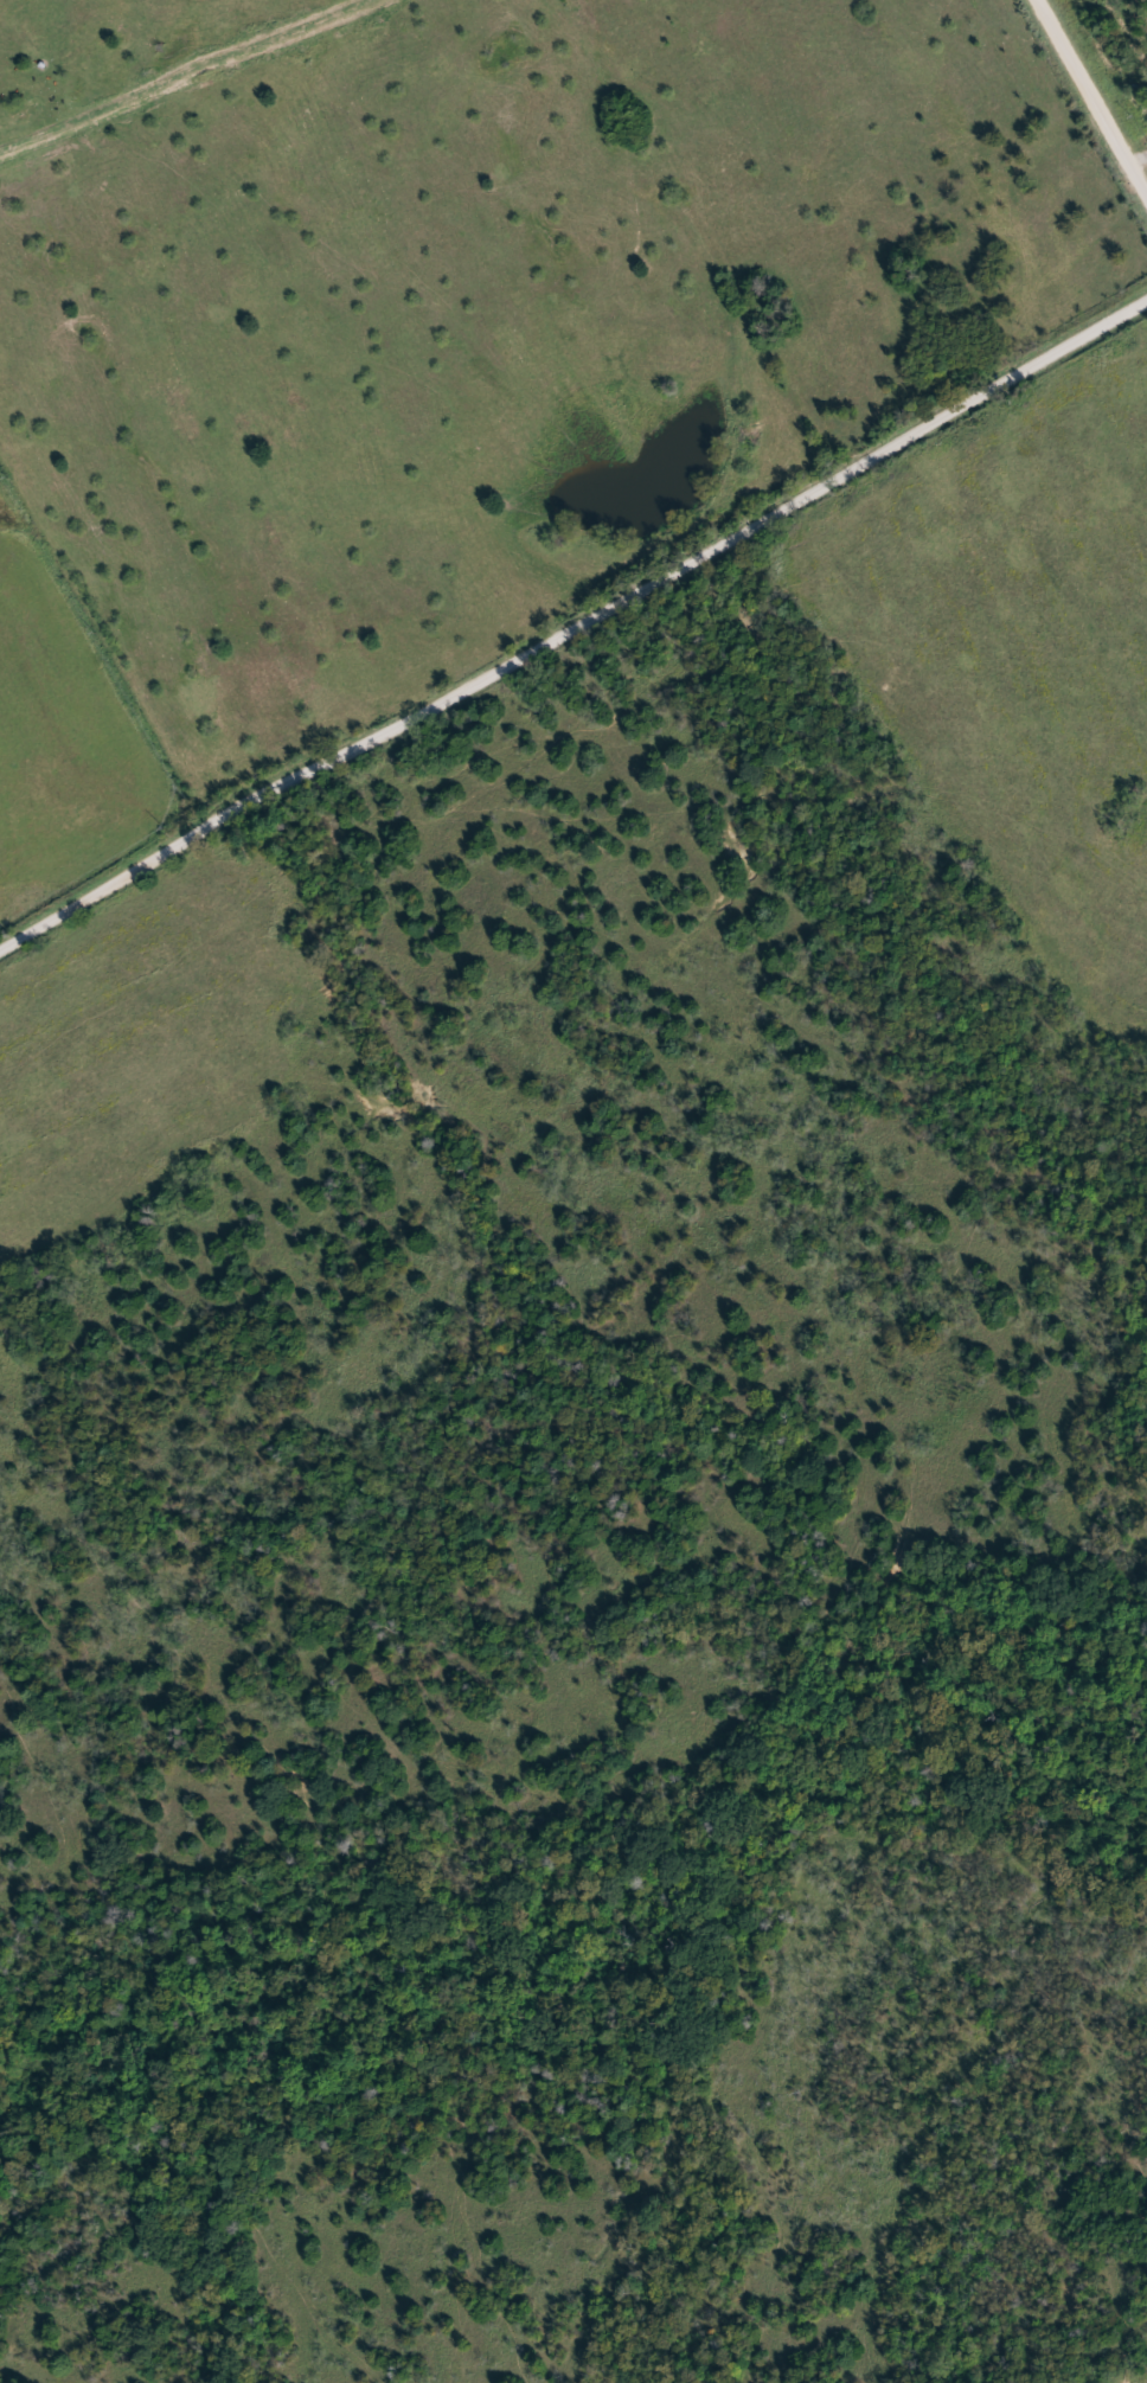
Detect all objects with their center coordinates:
road: (187, 76)
road: (1091, 97)
road: (573, 626)

